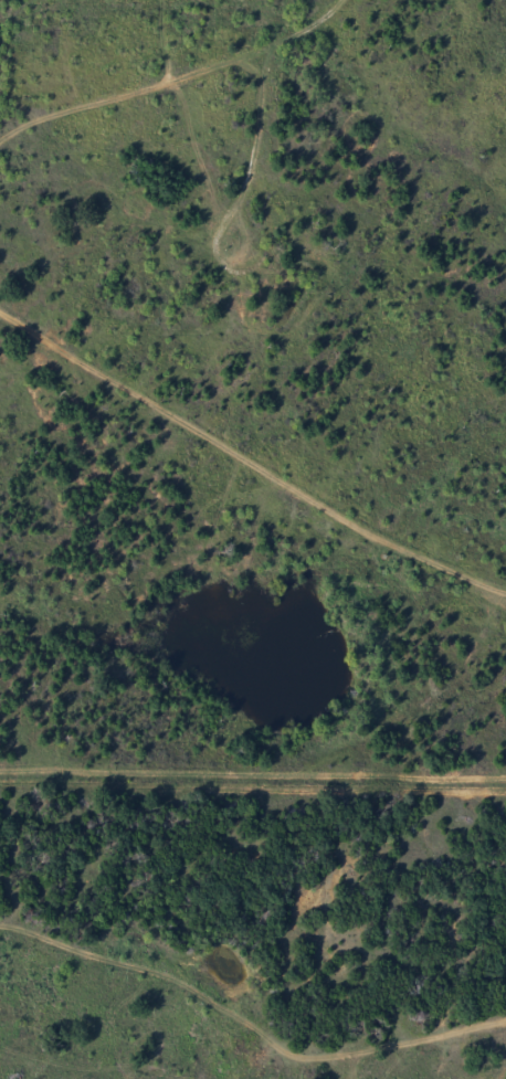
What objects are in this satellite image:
road: (246, 435)
road: (219, 1067)

